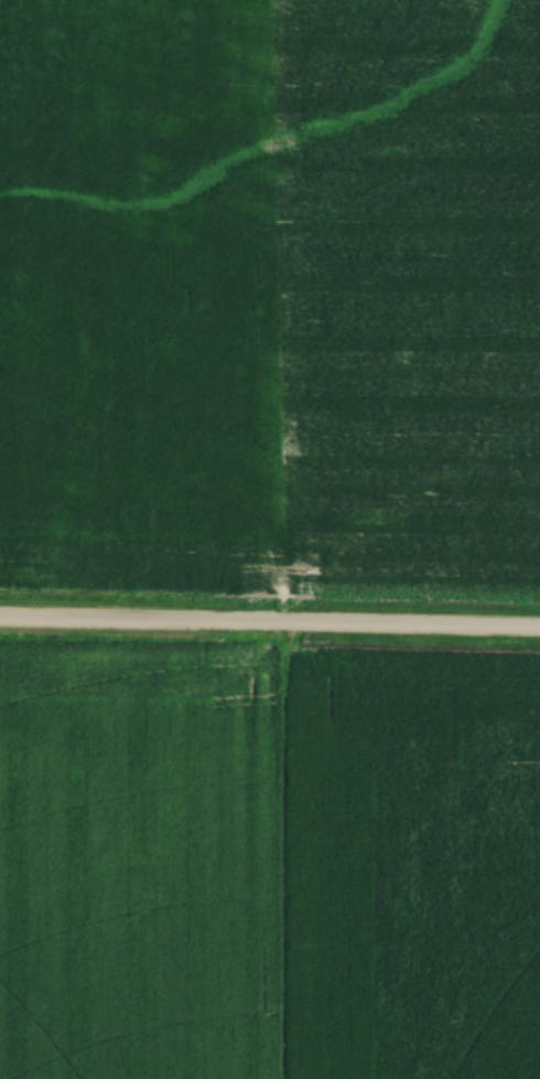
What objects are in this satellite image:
road: (270, 631)

